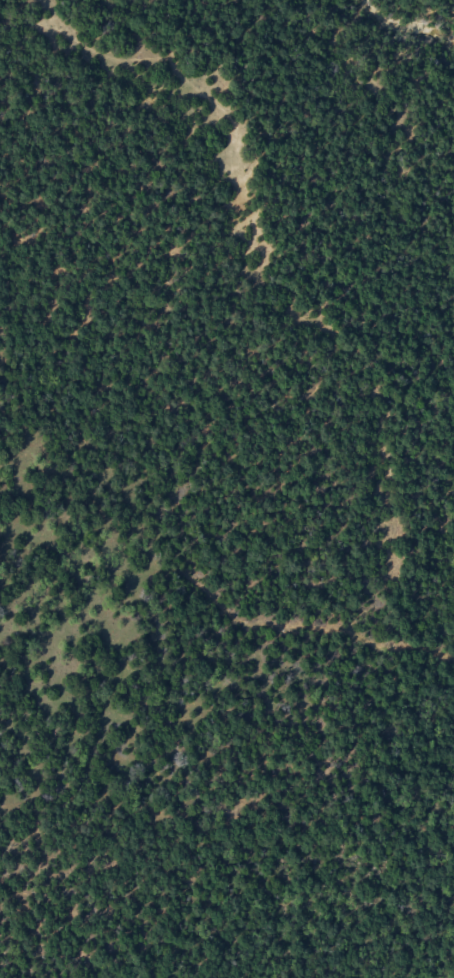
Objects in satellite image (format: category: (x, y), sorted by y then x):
road: (228, 613)

